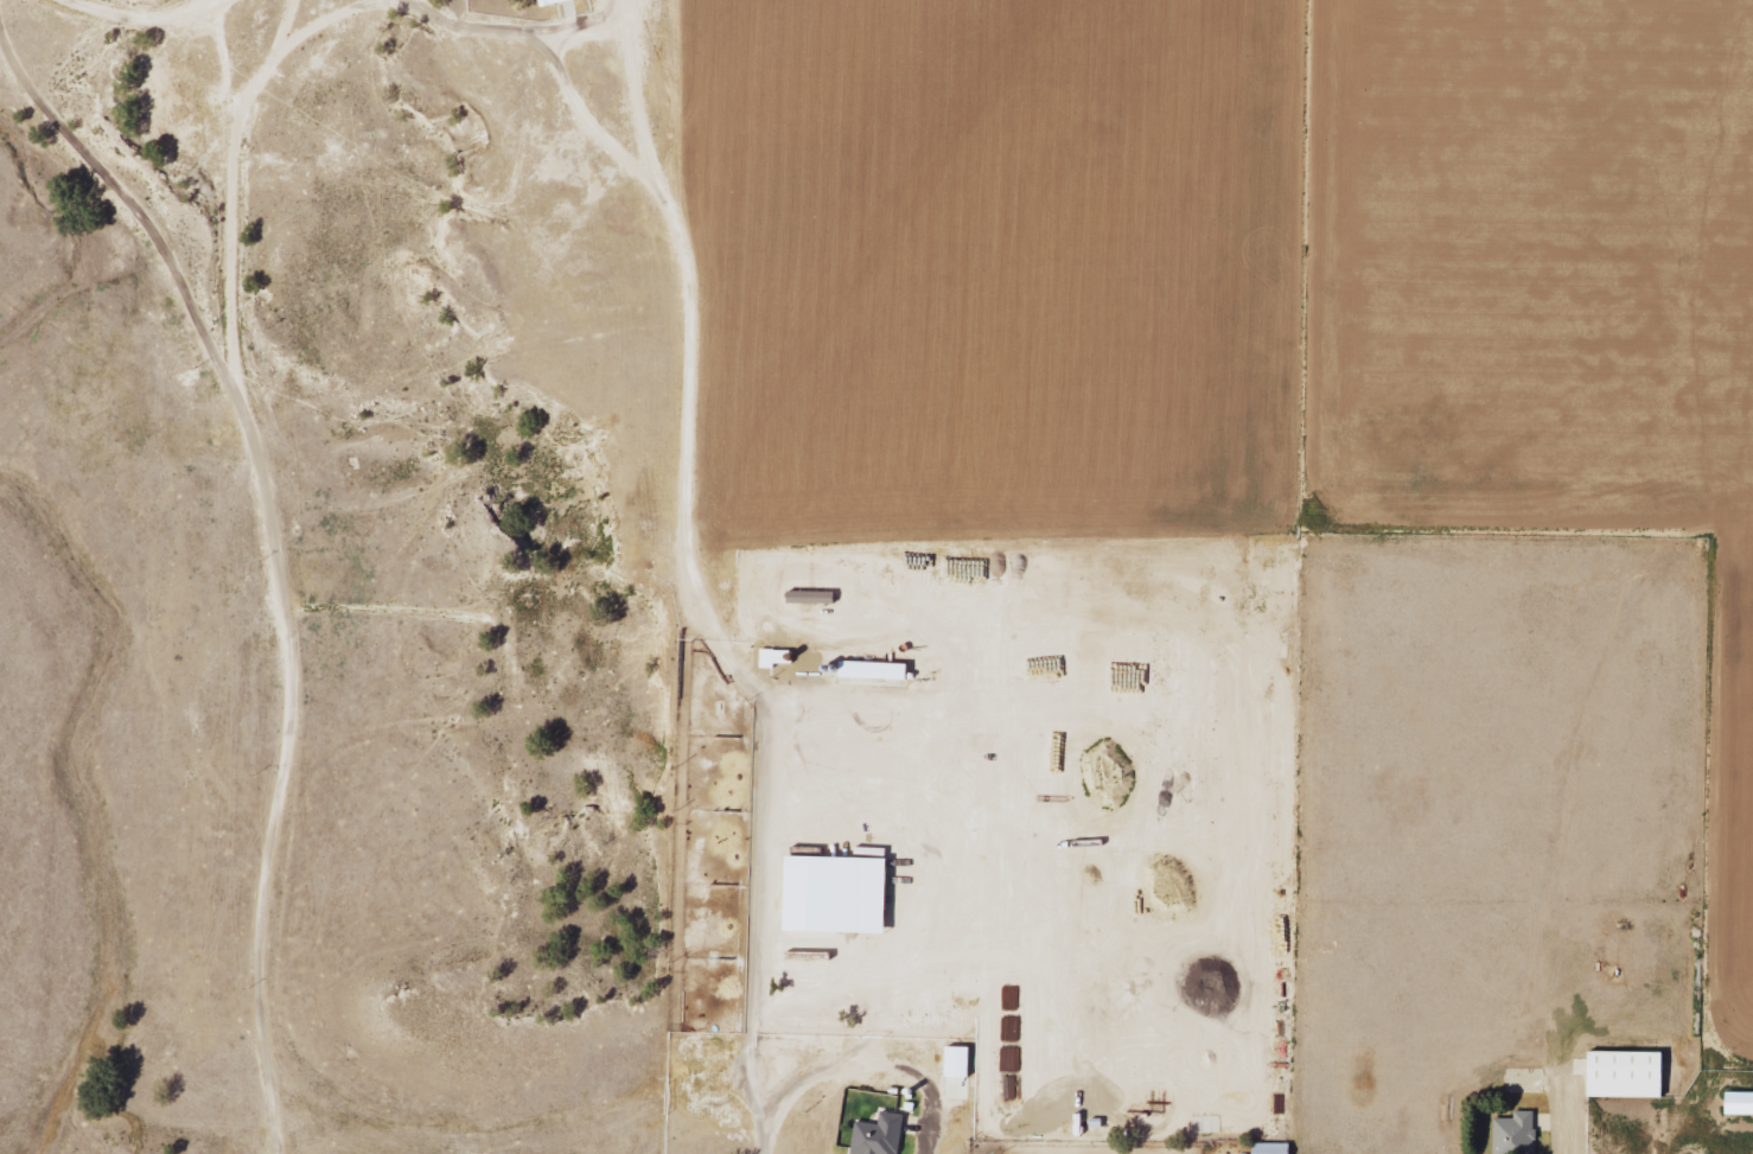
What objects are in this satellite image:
building: (557, 2)
building: (815, 597)
building: (842, 894)
building: (962, 1063)
building: (1631, 1075)
building: (1741, 1103)
building: (1521, 1134)
building: (884, 1135)
building: (1275, 1148)

